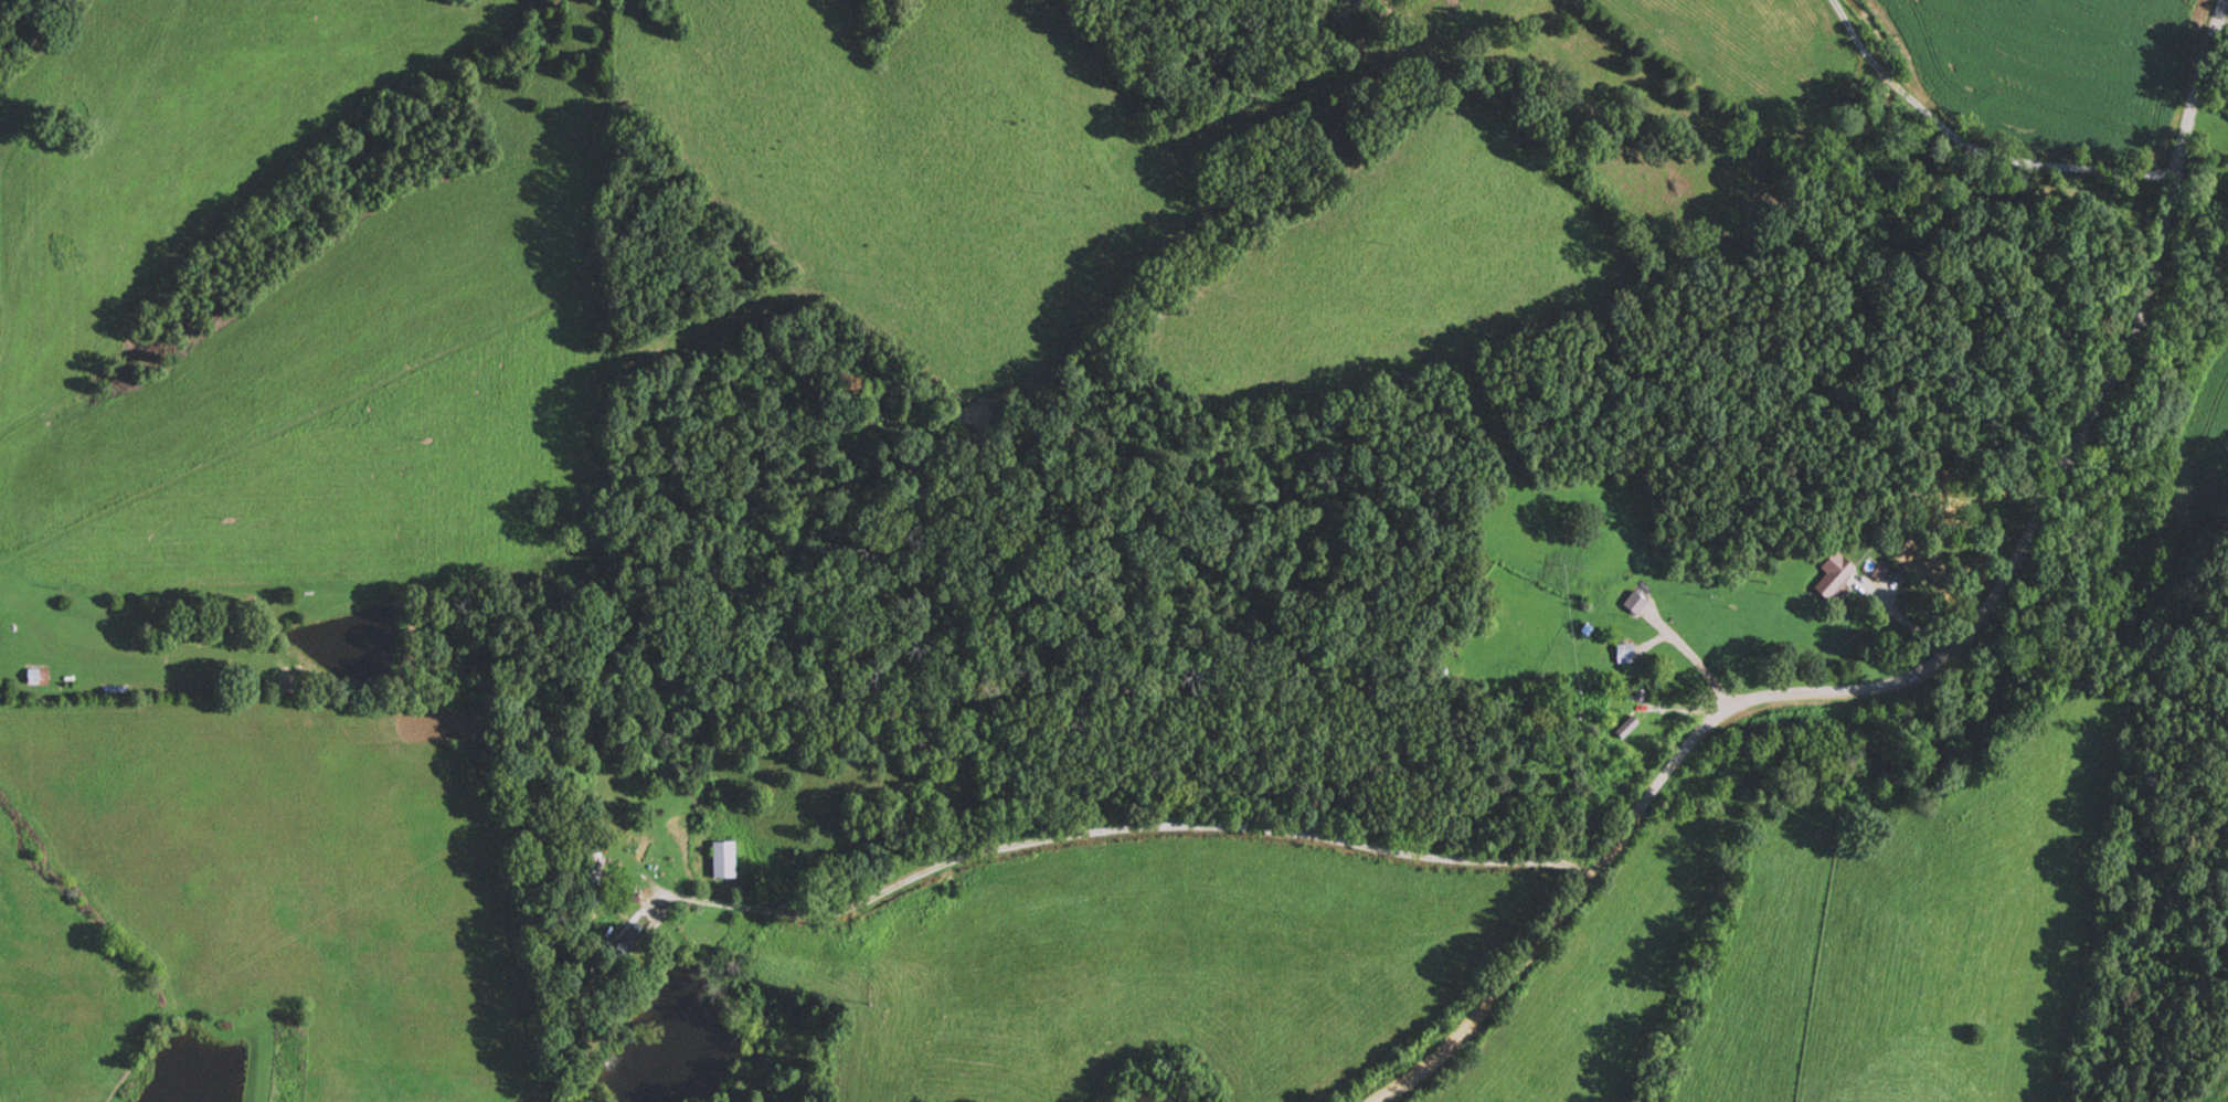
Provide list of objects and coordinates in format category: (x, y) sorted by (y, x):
road: (1938, 134)
road: (2107, 318)
road: (1726, 372)
building: (1835, 574)
building: (1633, 598)
building: (39, 676)
road: (1642, 806)
building: (622, 808)
road: (1107, 836)
building: (725, 858)
building: (871, 946)

